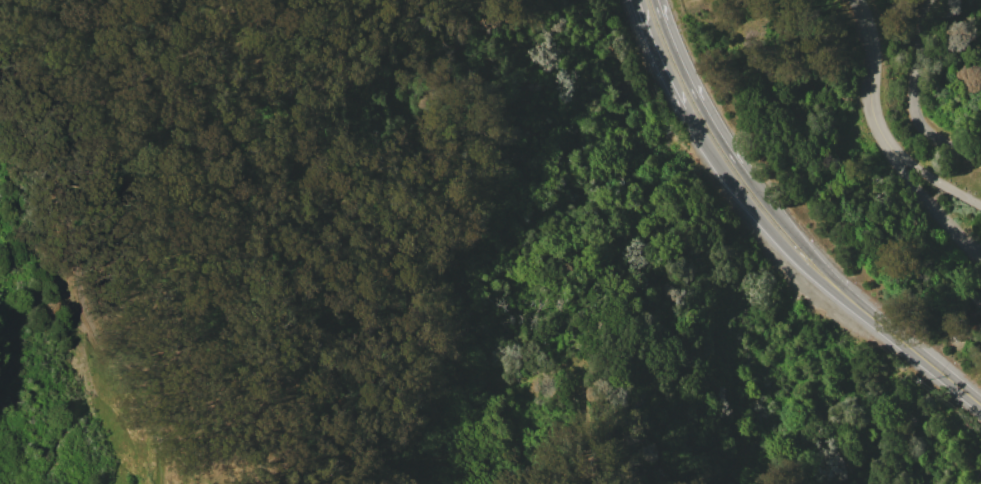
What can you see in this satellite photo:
road: (870, 78)
road: (116, 80)
road: (912, 100)
road: (937, 180)
road: (935, 209)
road: (777, 232)
road: (396, 252)
road: (102, 330)

